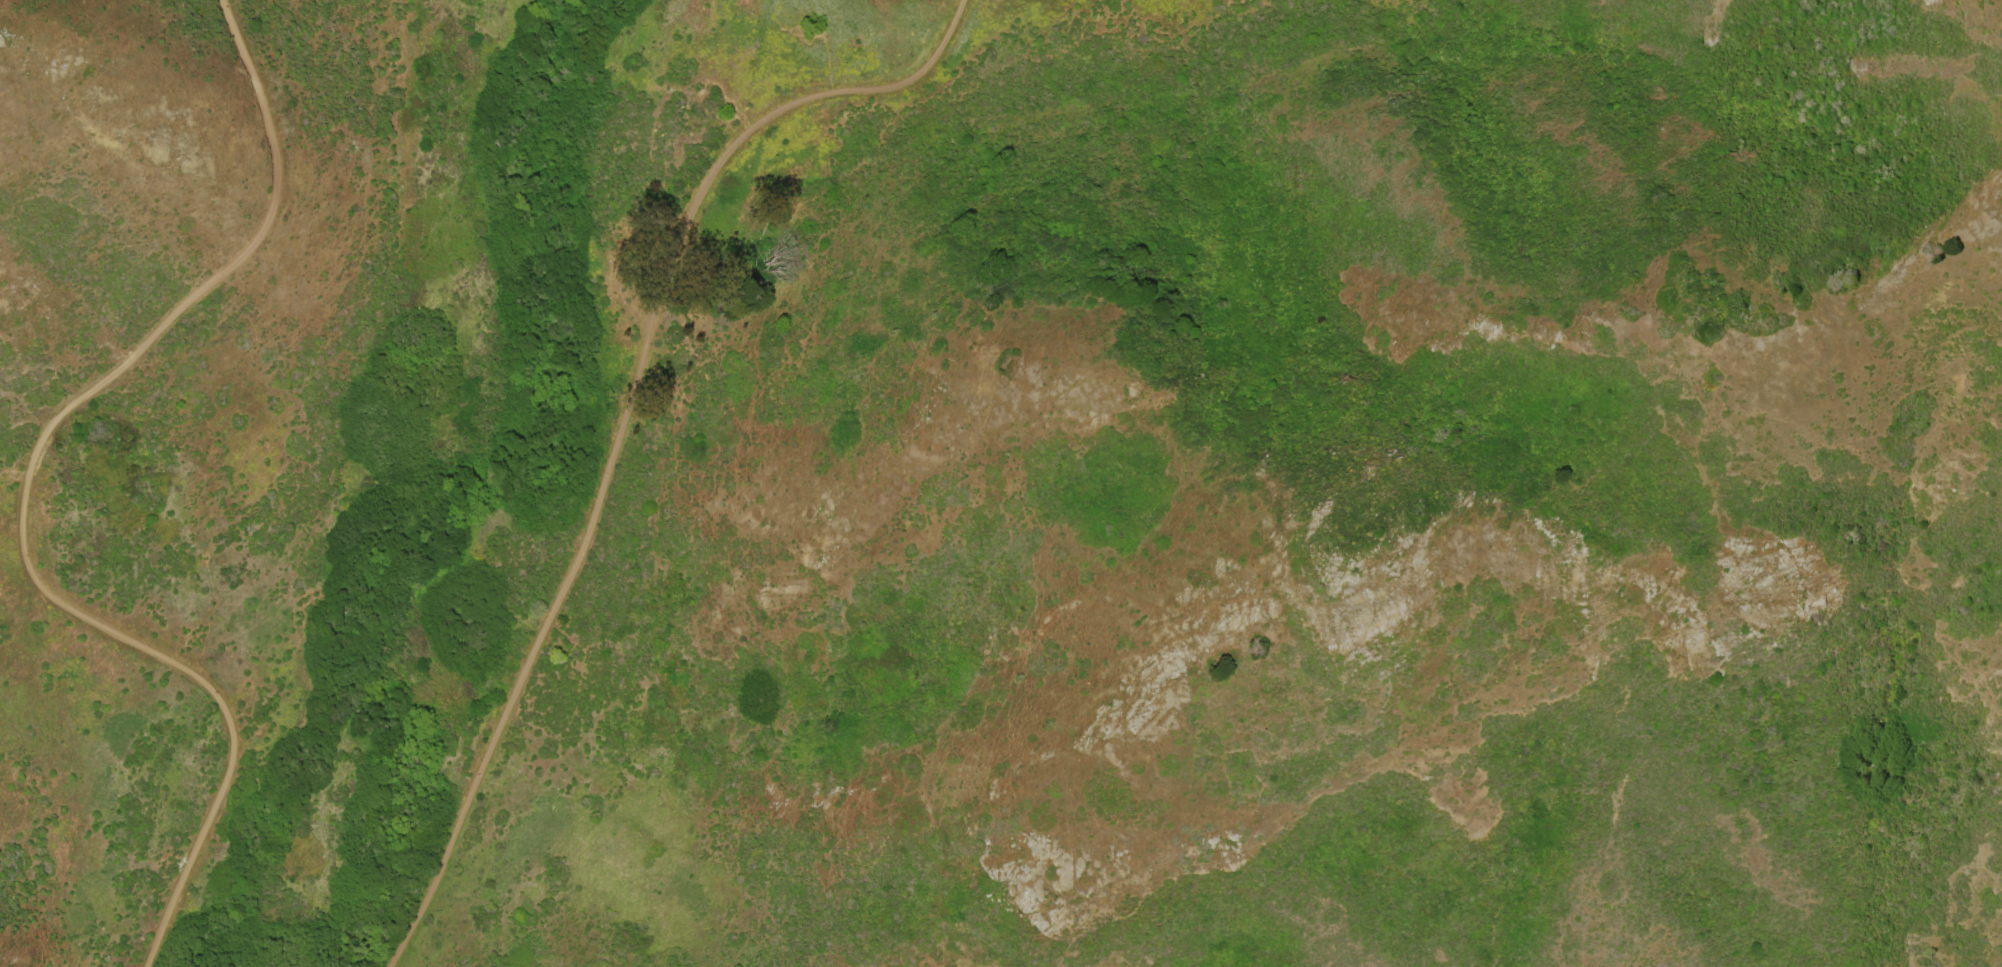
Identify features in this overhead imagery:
road: (622, 423)
road: (23, 486)

